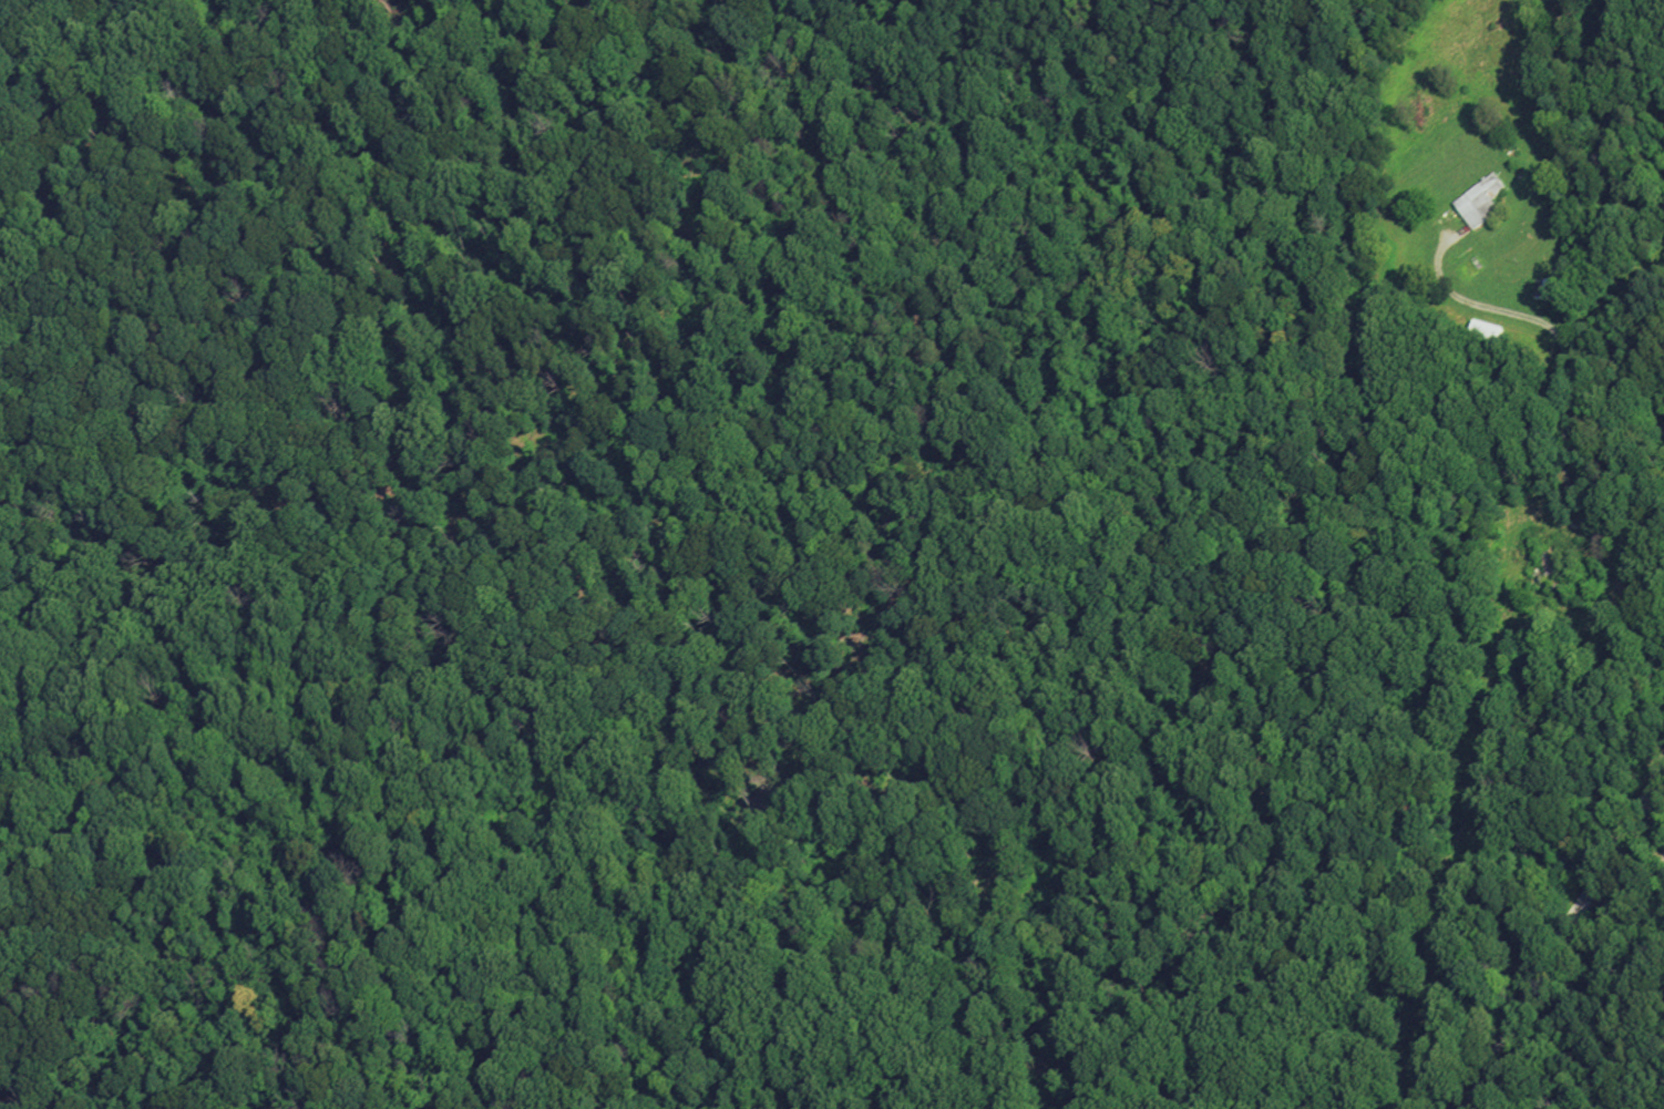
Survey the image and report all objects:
building: (1480, 203)
building: (1540, 290)
building: (1553, 292)
building: (1487, 335)
road: (1564, 391)
building: (1539, 569)
road: (1658, 785)
road: (1660, 815)
road: (1564, 935)

